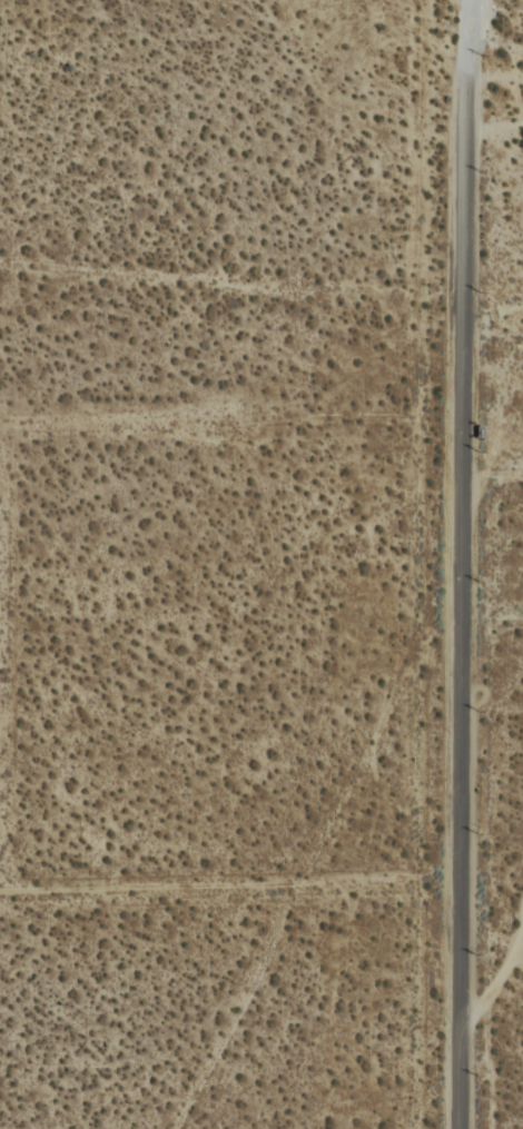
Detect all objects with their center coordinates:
road: (473, 32)
road: (116, 412)
road: (458, 596)
road: (225, 879)

